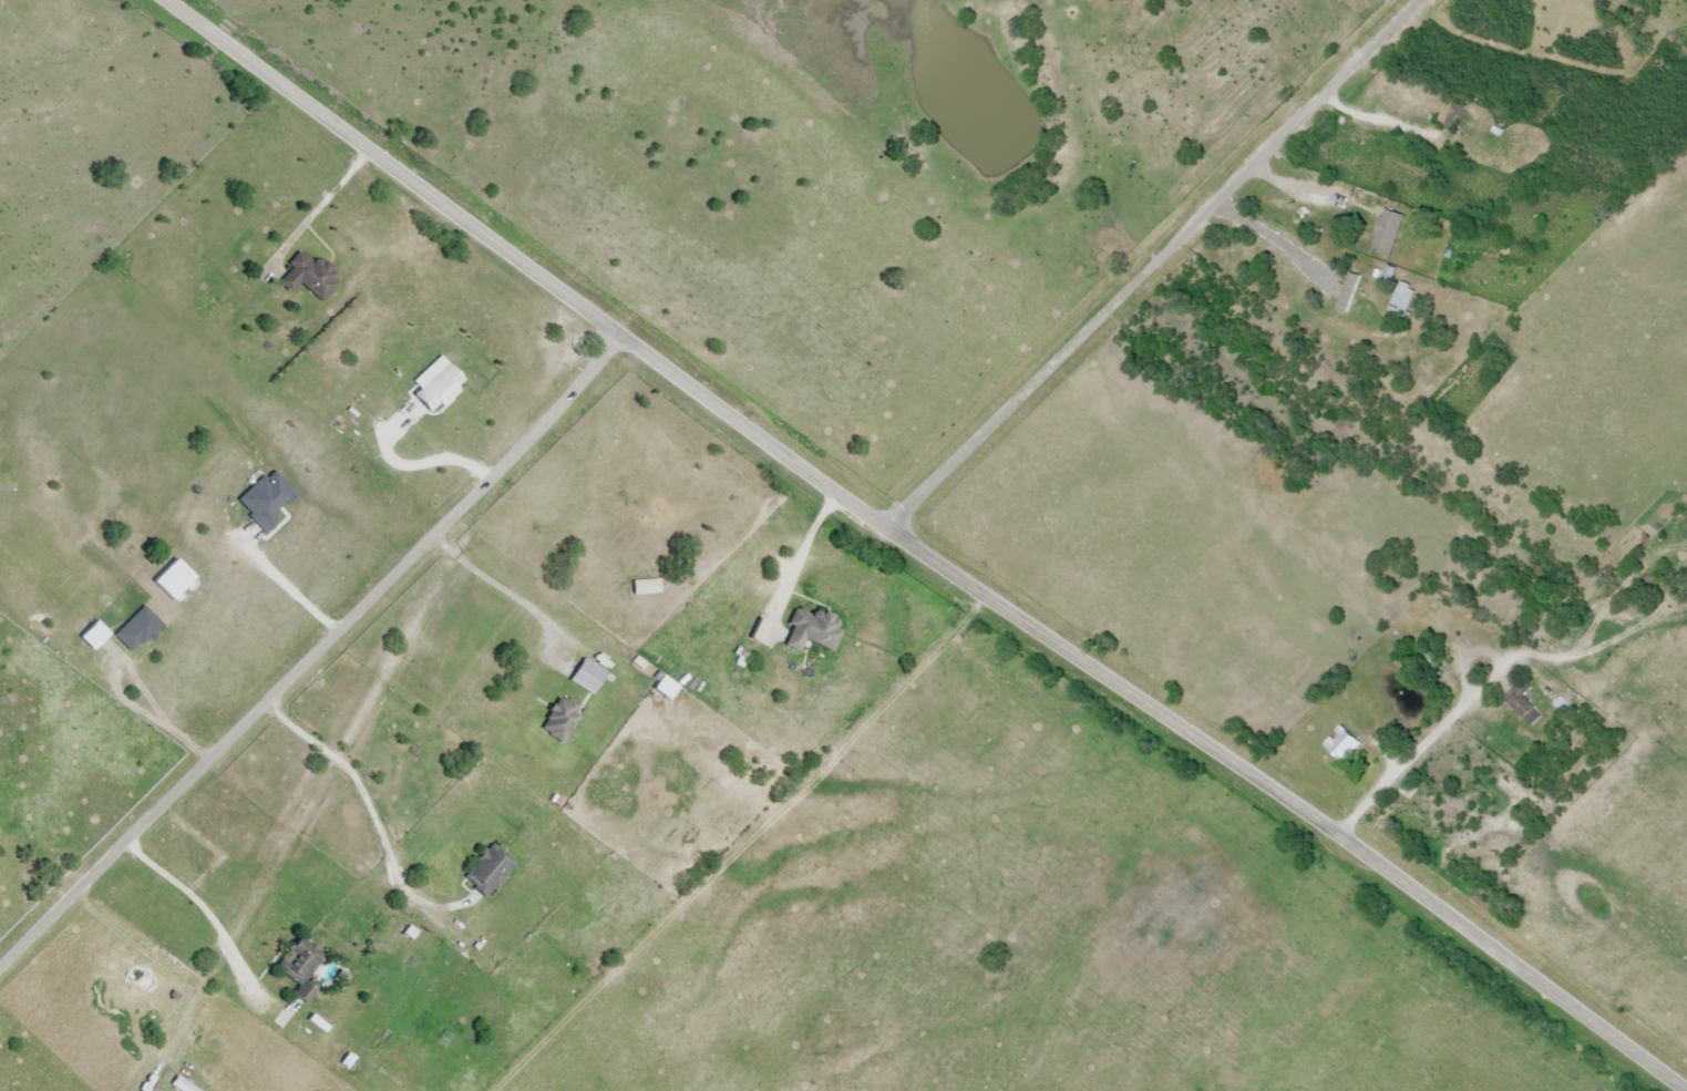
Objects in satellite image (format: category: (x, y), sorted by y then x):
building: (1449, 114)
building: (1485, 159)
building: (1402, 169)
road: (1295, 188)
building: (1386, 234)
road: (1273, 237)
road: (1150, 265)
building: (307, 278)
building: (1347, 295)
building: (1438, 297)
building: (213, 313)
building: (435, 390)
road: (918, 553)
road: (493, 586)
building: (809, 630)
road: (312, 652)
building: (1521, 703)
building: (558, 719)
road: (1423, 743)
building: (1340, 744)
building: (486, 871)
road: (203, 908)
building: (298, 967)

